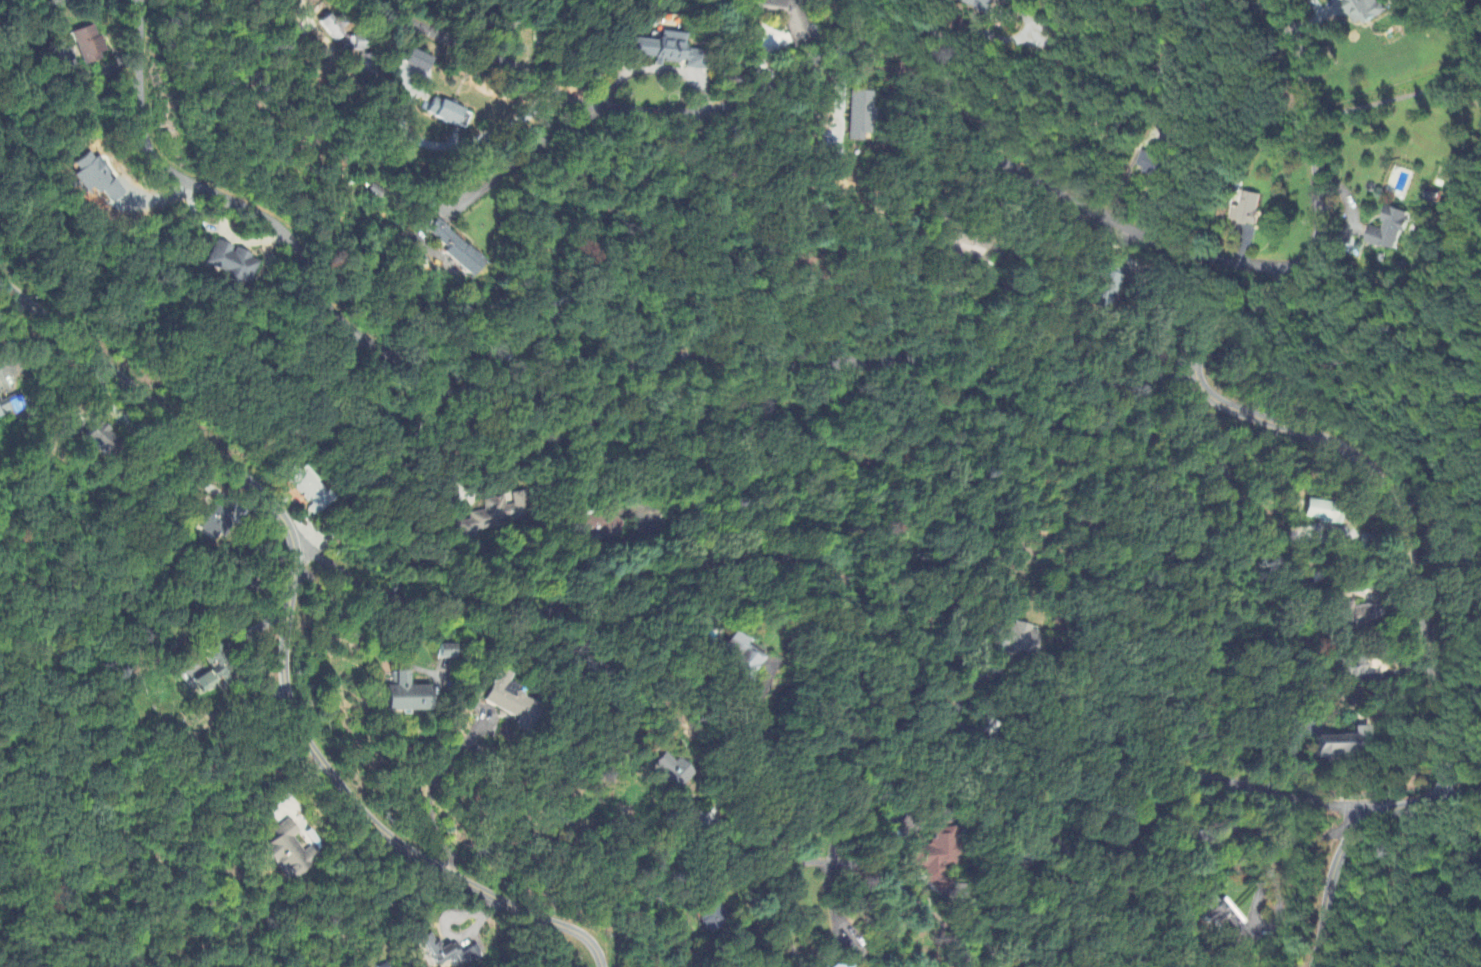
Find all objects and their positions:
road: (867, 35)
road: (842, 95)
road: (509, 126)
road: (148, 146)
road: (528, 156)
road: (974, 180)
road: (706, 386)
road: (153, 410)
road: (1250, 412)
road: (419, 447)
road: (1229, 476)
road: (360, 636)
building: (1014, 642)
building: (447, 652)
building: (740, 659)
building: (1353, 669)
building: (215, 671)
road: (838, 682)
building: (407, 697)
building: (509, 701)
building: (1347, 745)
building: (670, 772)
road: (433, 787)
road: (1460, 798)
road: (1398, 809)
road: (367, 815)
road: (871, 819)
road: (901, 833)
building: (291, 852)
road: (342, 853)
building: (936, 859)
road: (800, 863)
road: (1263, 882)
road: (1400, 886)
road: (1328, 890)
building: (715, 920)
building: (1227, 927)
road: (978, 929)
building: (440, 951)
road: (806, 959)
road: (1310, 963)
building: (843, 966)

